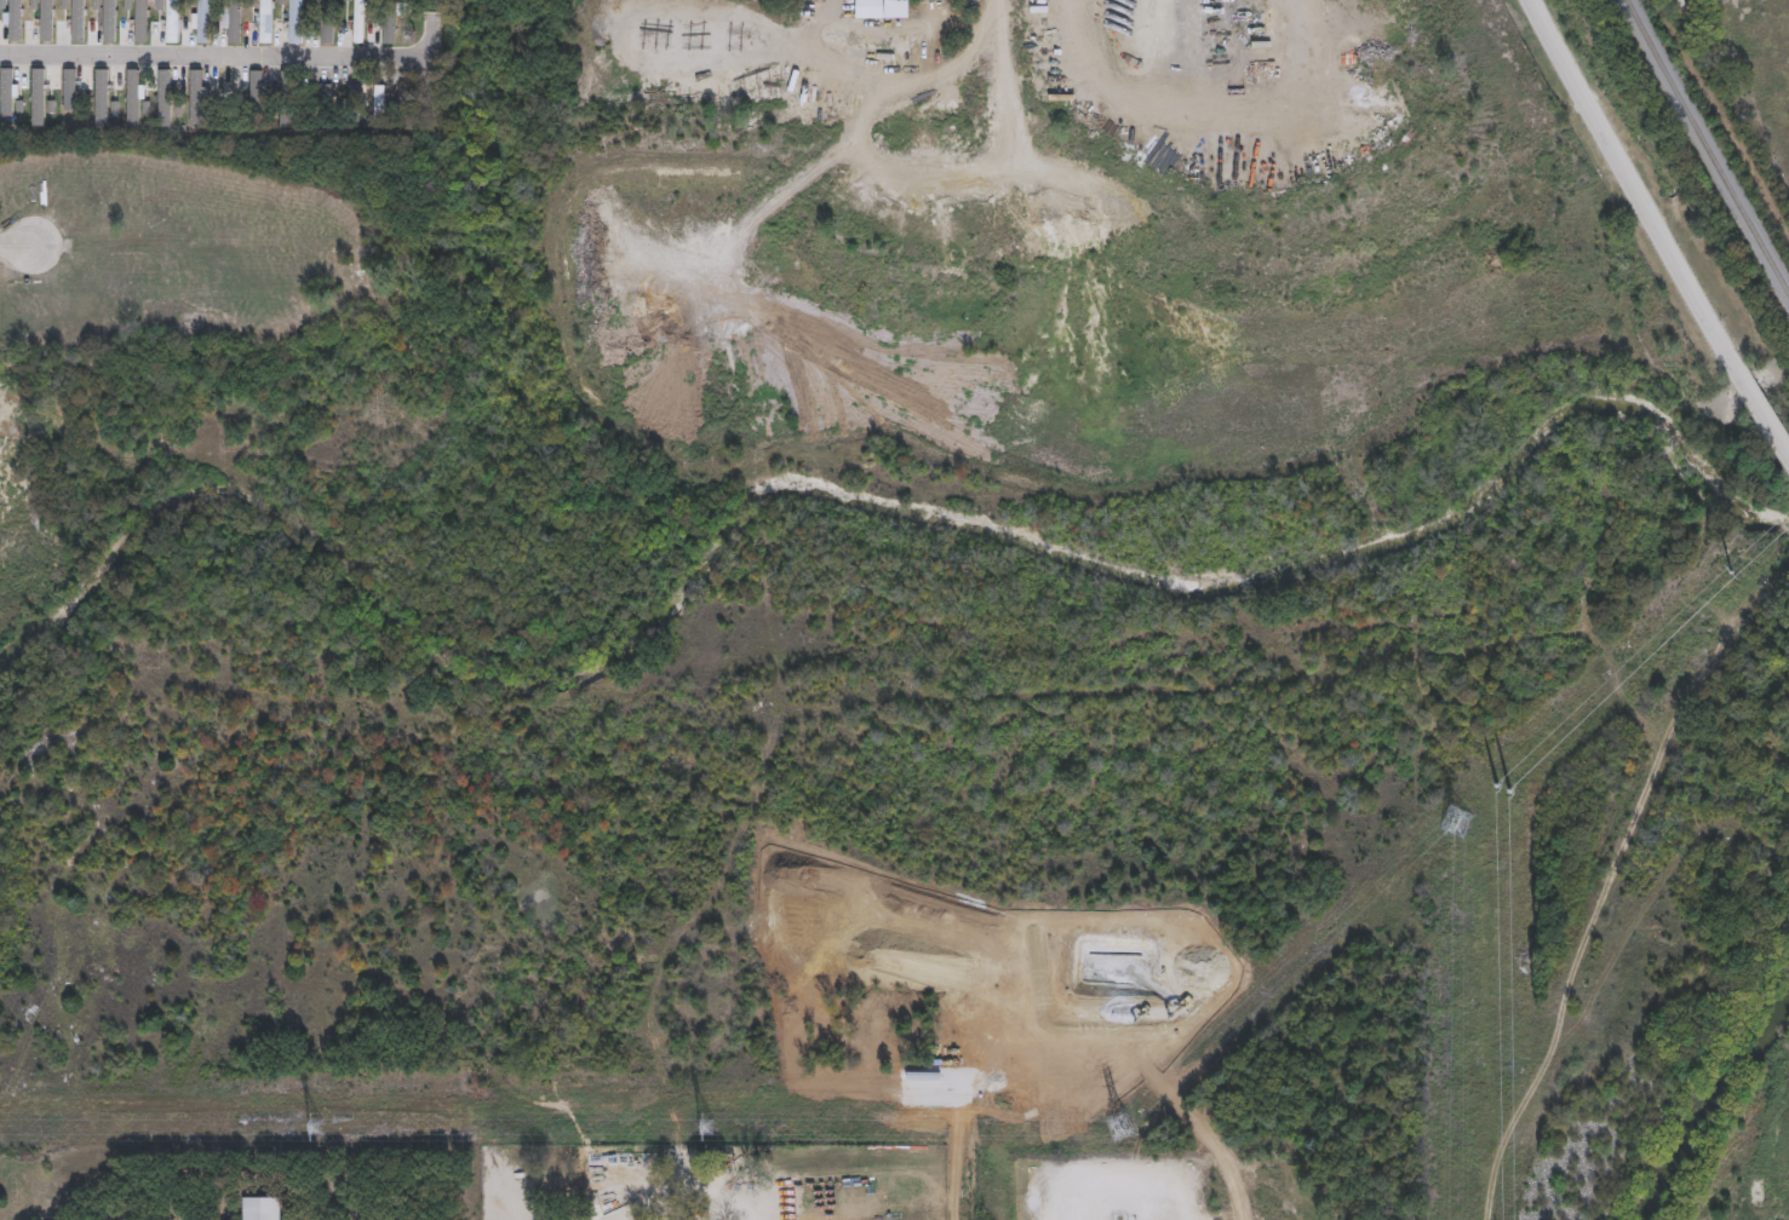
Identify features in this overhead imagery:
building: (882, 8)
building: (277, 19)
building: (250, 21)
building: (357, 21)
building: (388, 22)
building: (64, 25)
building: (10, 27)
road: (613, 27)
building: (351, 30)
road: (214, 52)
road: (898, 75)
building: (68, 88)
building: (131, 94)
building: (5, 96)
building: (36, 96)
building: (99, 96)
building: (253, 96)
building: (151, 98)
building: (402, 102)
building: (377, 103)
railway: (1707, 148)
road: (1633, 188)
road: (16, 240)
road: (1762, 420)
power tower: (1731, 570)
power tower: (1497, 783)
power tower: (1457, 819)
river: (1715, 1116)
power tower: (315, 1126)
power tower: (706, 1126)
power tower: (1118, 1127)
building: (258, 1208)

